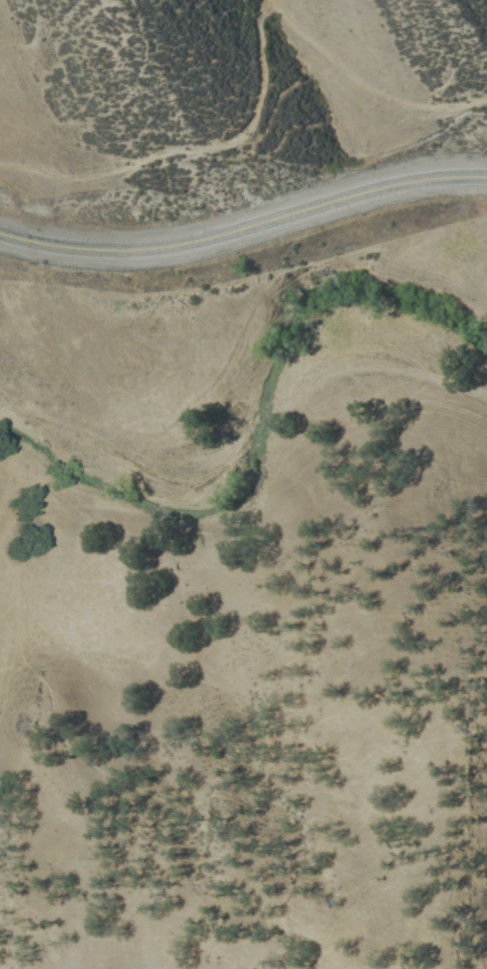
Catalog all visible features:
road: (244, 206)

